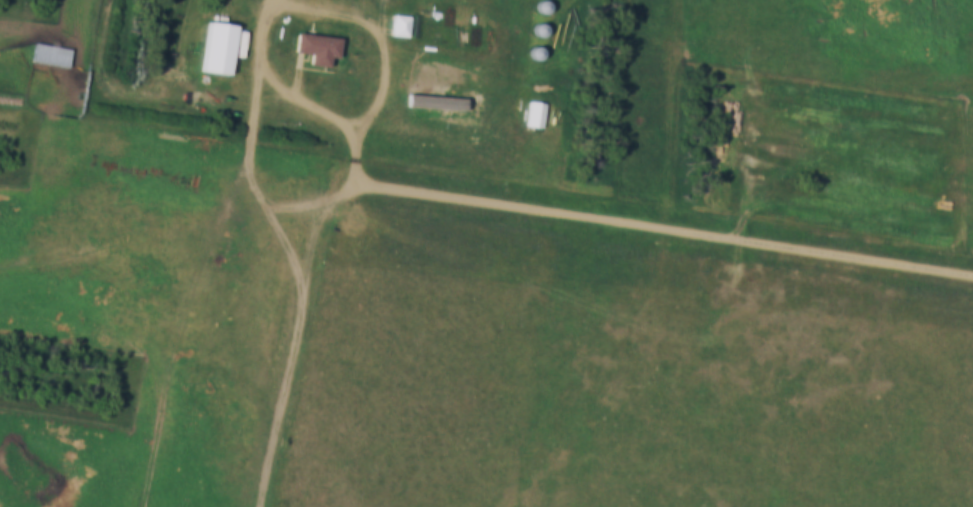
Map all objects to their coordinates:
road: (296, 9)
building: (547, 10)
silo: (547, 10)
building: (404, 29)
building: (544, 34)
silo: (544, 34)
building: (320, 48)
building: (221, 53)
building: (55, 57)
building: (541, 57)
silo: (541, 57)
building: (541, 117)
road: (250, 134)
road: (644, 226)
road: (179, 231)

